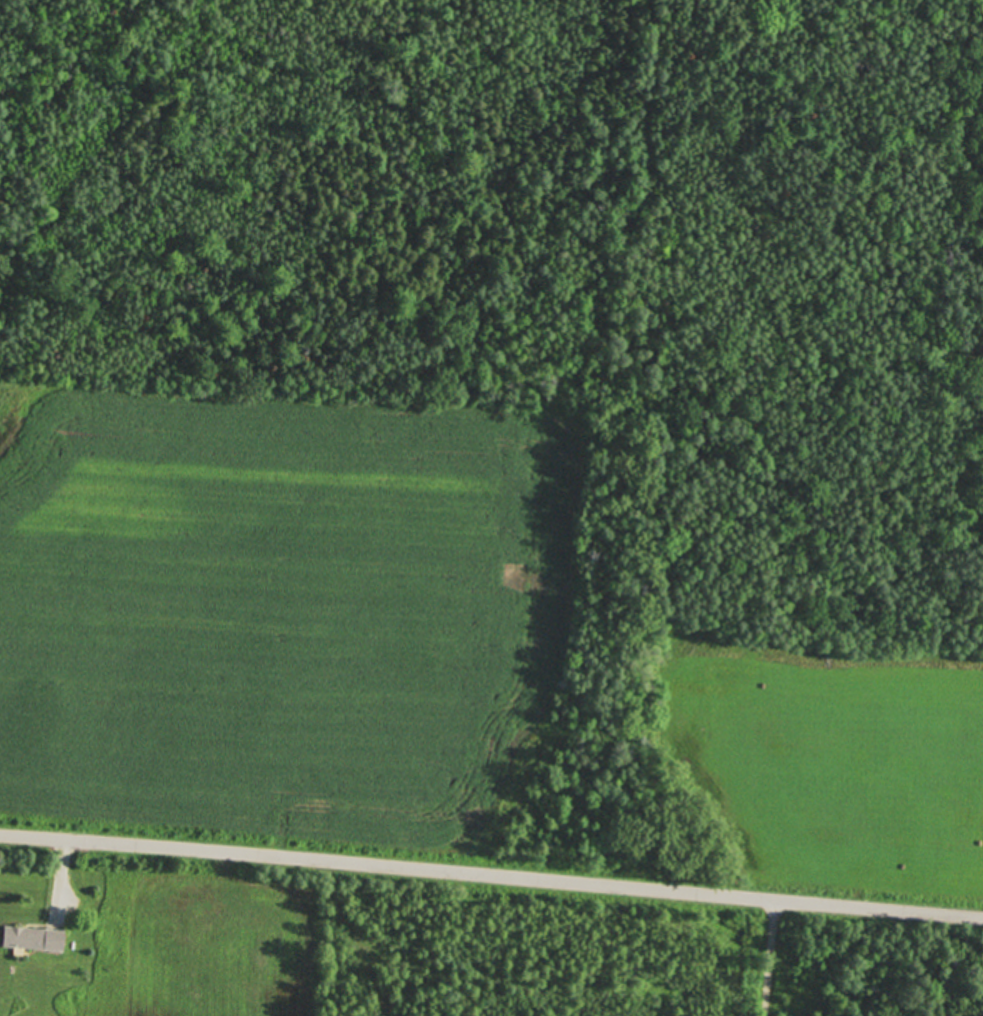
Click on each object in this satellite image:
road: (491, 881)
building: (32, 937)
road: (768, 960)

